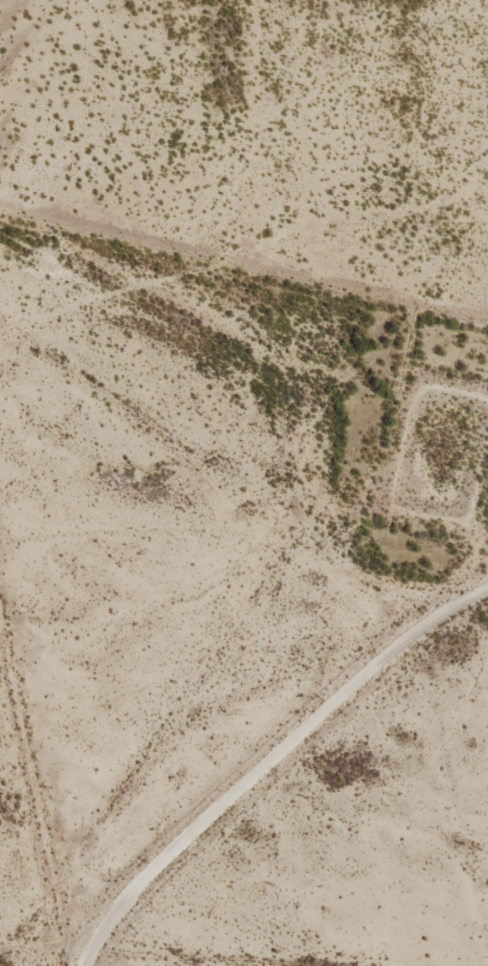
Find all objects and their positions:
road: (237, 709)
road: (30, 840)

